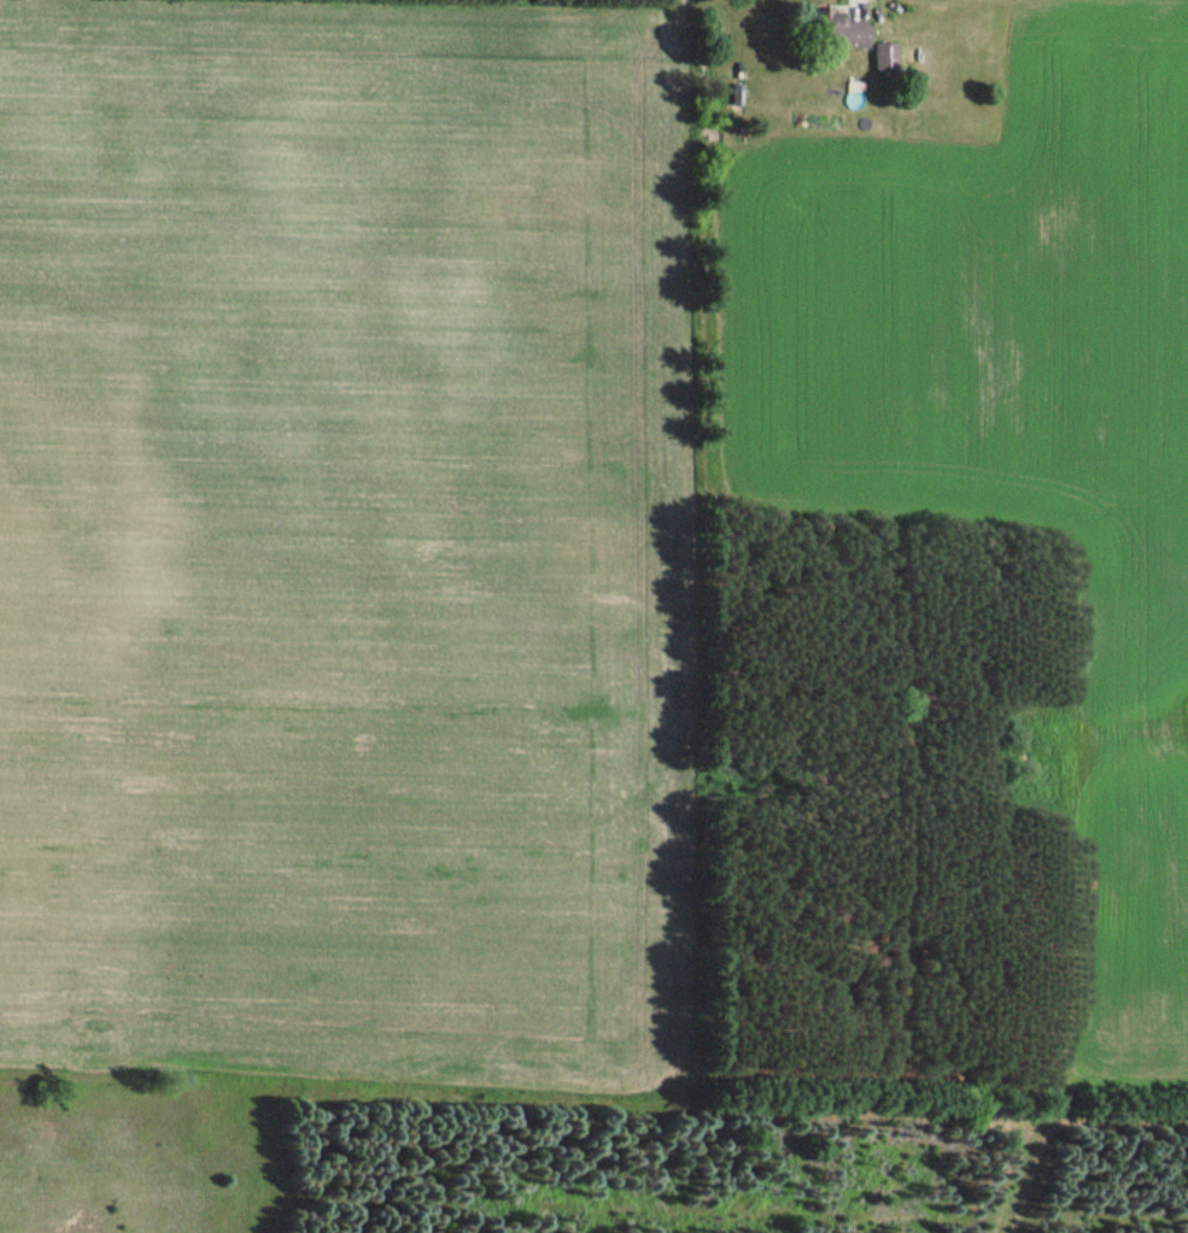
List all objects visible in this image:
building: (839, 29)
building: (888, 55)

